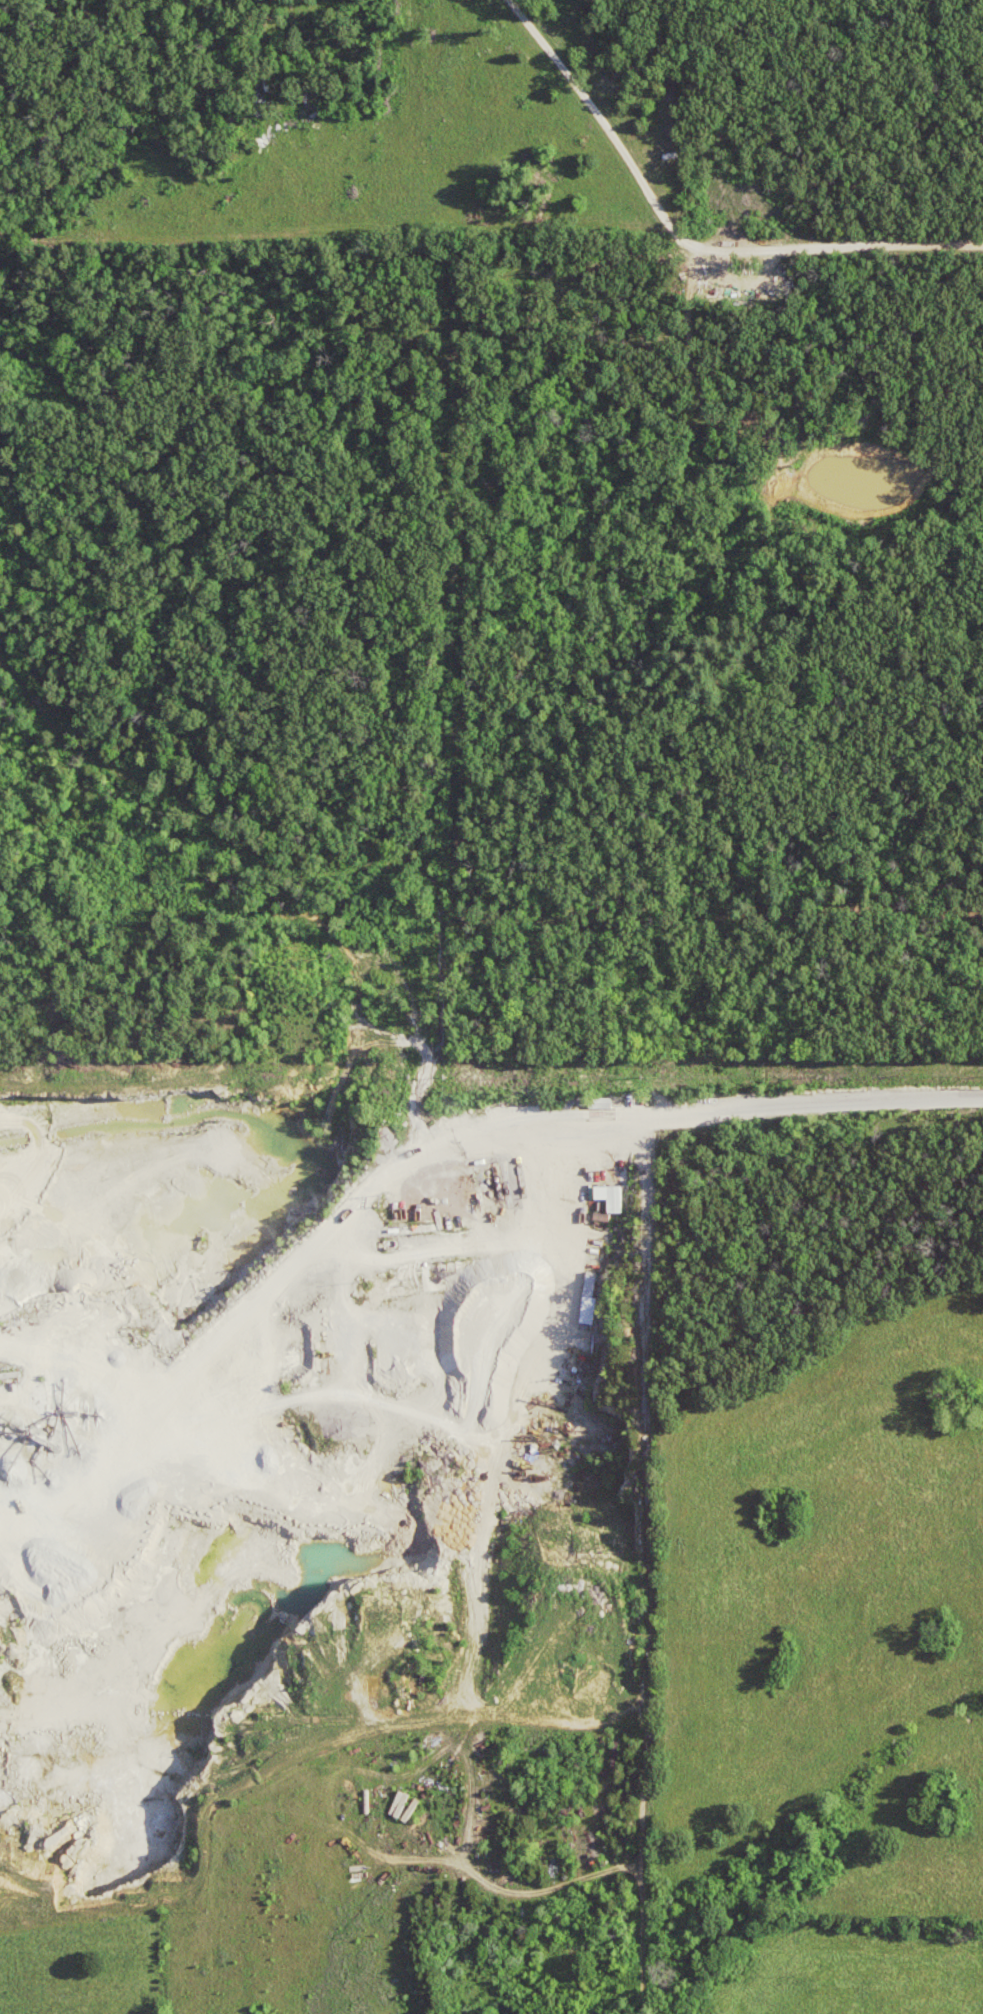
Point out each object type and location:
road: (683, 240)
road: (818, 1107)
road: (372, 1184)
building: (615, 1197)
building: (593, 1299)
quarry: (253, 1431)
road: (644, 1564)

